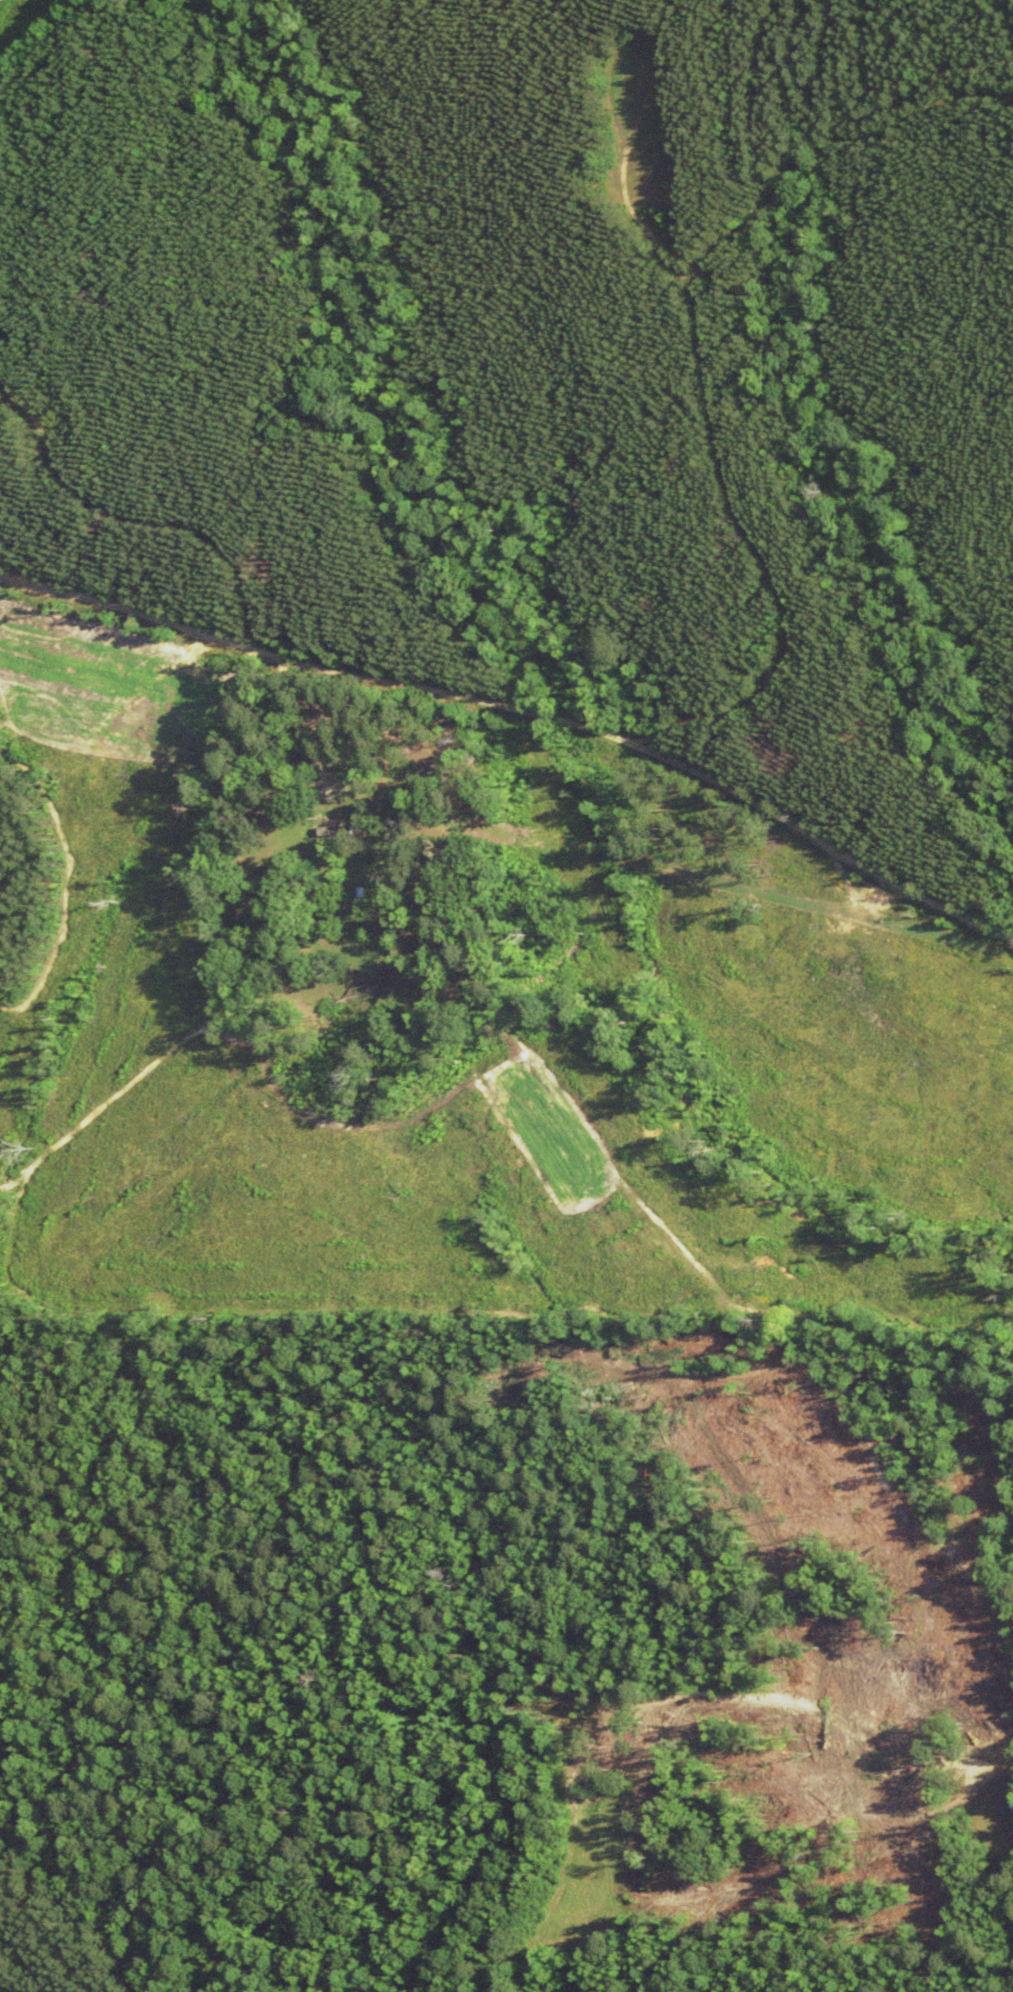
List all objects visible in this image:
road: (523, 712)

